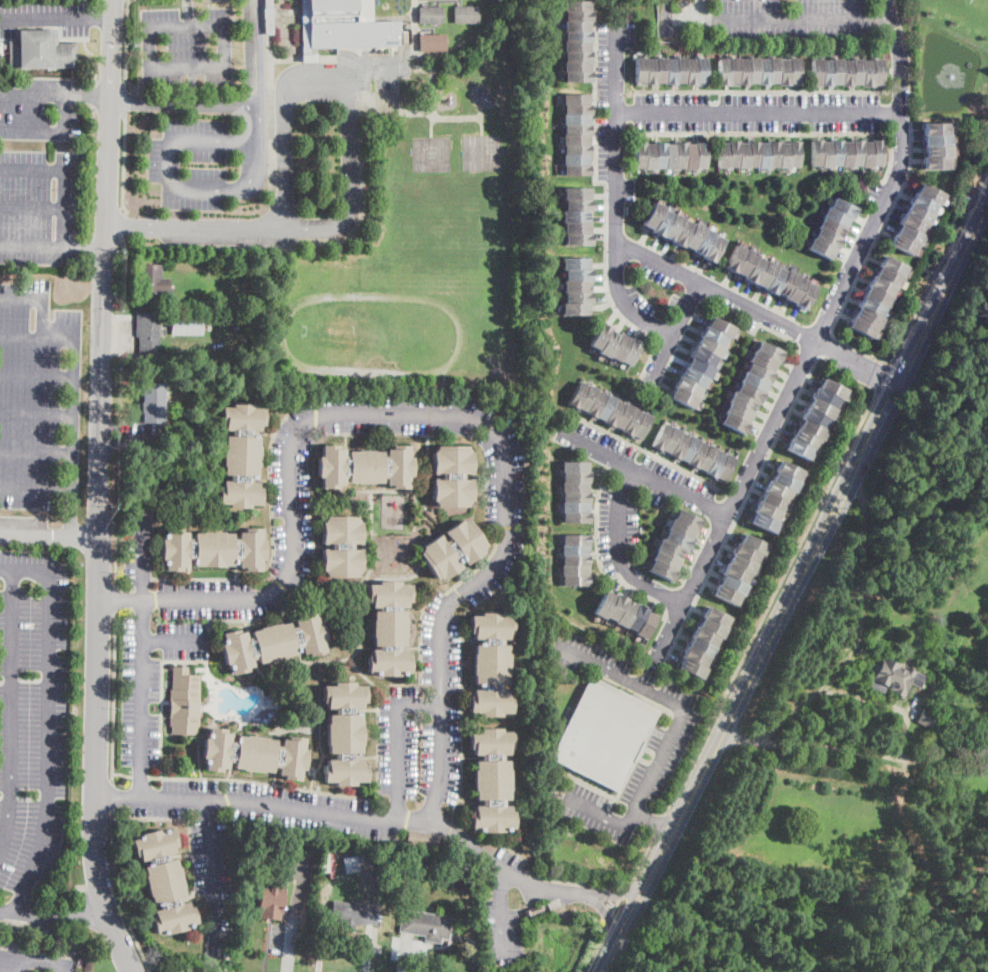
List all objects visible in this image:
building: (414, 1)
building: (575, 5)
road: (184, 9)
road: (702, 9)
building: (430, 13)
building: (465, 13)
road: (193, 14)
building: (577, 15)
parking lot: (42, 16)
road: (401, 16)
building: (269, 17)
road: (99, 18)
parking lot: (763, 18)
road: (44, 19)
road: (777, 19)
building: (576, 25)
building: (343, 26)
road: (472, 35)
building: (577, 35)
building: (431, 40)
road: (126, 43)
parking lot: (187, 45)
building: (575, 45)
building: (41, 51)
building: (577, 55)
road: (97, 56)
road: (339, 58)
road: (432, 60)
road: (179, 66)
building: (577, 66)
parking lot: (388, 69)
building: (660, 70)
building: (681, 70)
building: (753, 70)
building: (773, 70)
road: (362, 71)
building: (639, 71)
building: (650, 71)
building: (690, 71)
building: (700, 71)
building: (722, 71)
building: (733, 71)
building: (743, 71)
building: (764, 71)
building: (793, 71)
building: (837, 71)
building: (670, 72)
building: (783, 72)
building: (815, 72)
building: (856, 72)
building: (876, 72)
building: (827, 73)
building: (846, 73)
building: (866, 73)
building: (577, 76)
road: (338, 78)
parking lot: (901, 81)
road: (109, 83)
road: (765, 91)
road: (31, 94)
road: (94, 94)
road: (85, 95)
road: (124, 98)
building: (576, 98)
road: (183, 102)
road: (269, 102)
building: (577, 107)
parking lot: (38, 110)
parking lot: (703, 110)
road: (757, 111)
road: (61, 113)
building: (576, 118)
road: (482, 120)
building: (934, 127)
building: (577, 129)
road: (30, 130)
road: (763, 133)
building: (575, 138)
building: (935, 138)
building: (577, 148)
building: (815, 151)
building: (835, 151)
building: (855, 151)
building: (937, 151)
building: (825, 152)
building: (845, 152)
building: (876, 152)
building: (732, 153)
building: (866, 153)
building: (722, 154)
building: (742, 154)
building: (753, 154)
building: (773, 154)
building: (793, 154)
building: (639, 155)
building: (660, 155)
building: (700, 155)
building: (763, 155)
building: (783, 155)
building: (650, 156)
building: (670, 156)
building: (679, 156)
building: (690, 156)
building: (575, 159)
road: (122, 160)
building: (934, 163)
parking lot: (190, 164)
road: (32, 168)
building: (577, 170)
road: (92, 171)
parking lot: (889, 176)
road: (224, 189)
road: (615, 192)
building: (574, 193)
building: (929, 193)
road: (607, 200)
building: (922, 203)
building: (576, 204)
parking lot: (40, 205)
road: (32, 206)
road: (64, 207)
building: (840, 208)
building: (918, 214)
building: (573, 215)
building: (651, 215)
building: (835, 217)
building: (661, 222)
building: (912, 224)
building: (574, 226)
building: (672, 226)
road: (120, 227)
road: (132, 227)
road: (222, 227)
road: (289, 227)
building: (831, 227)
road: (355, 230)
parking lot: (227, 231)
building: (681, 232)
building: (908, 235)
building: (692, 236)
building: (827, 238)
building: (576, 239)
building: (702, 242)
building: (902, 244)
road: (31, 245)
road: (83, 246)
building: (819, 248)
building: (712, 249)
building: (732, 259)
building: (575, 263)
building: (744, 263)
building: (890, 265)
building: (753, 269)
building: (576, 274)
building: (764, 275)
building: (888, 276)
building: (774, 281)
building: (152, 283)
building: (785, 283)
building: (576, 285)
building: (880, 286)
building: (795, 289)
parking lot: (838, 292)
parking lot: (653, 294)
road: (120, 295)
building: (804, 295)
building: (876, 296)
road: (21, 297)
building: (577, 297)
building: (870, 306)
building: (575, 308)
road: (756, 309)
parking lot: (754, 310)
road: (42, 316)
road: (117, 317)
building: (866, 317)
building: (187, 325)
building: (720, 326)
building: (861, 328)
road: (749, 329)
building: (148, 331)
road: (673, 331)
road: (37, 334)
track: (371, 335)
building: (712, 335)
building: (599, 336)
road: (815, 340)
building: (608, 343)
building: (618, 346)
building: (708, 346)
road: (854, 347)
building: (768, 351)
building: (629, 352)
building: (703, 356)
building: (762, 360)
building: (699, 367)
building: (759, 372)
road: (37, 376)
building: (694, 376)
road: (883, 377)
building: (752, 381)
building: (688, 387)
building: (831, 388)
building: (643, 389)
building: (749, 392)
building: (577, 395)
building: (586, 397)
building: (824, 397)
parking lot: (38, 398)
building: (682, 398)
building: (153, 400)
building: (741, 401)
building: (595, 404)
building: (605, 407)
building: (819, 408)
building: (613, 412)
building: (738, 412)
road: (37, 413)
road: (435, 415)
building: (623, 415)
building: (813, 419)
building: (631, 422)
building: (733, 423)
building: (642, 426)
building: (811, 430)
road: (73, 435)
building: (660, 436)
road: (131, 438)
building: (805, 439)
building: (669, 441)
building: (679, 445)
building: (689, 449)
building: (798, 449)
road: (36, 452)
building: (697, 454)
building: (241, 456)
building: (706, 458)
building: (714, 464)
building: (574, 465)
building: (365, 467)
building: (724, 468)
building: (789, 470)
parking lot: (747, 472)
road: (643, 474)
building: (576, 475)
building: (452, 476)
building: (783, 481)
building: (574, 485)
road: (36, 489)
road: (98, 489)
building: (777, 490)
parking lot: (630, 493)
building: (576, 495)
building: (773, 501)
building: (575, 506)
building: (766, 511)
building: (576, 516)
building: (686, 519)
building: (763, 523)
building: (681, 529)
road: (48, 535)
building: (576, 539)
building: (675, 540)
road: (114, 541)
building: (752, 544)
building: (341, 546)
parking lot: (139, 547)
building: (212, 549)
building: (453, 549)
building: (574, 549)
building: (668, 549)
road: (619, 552)
building: (745, 553)
building: (576, 560)
building: (665, 560)
building: (741, 564)
building: (574, 569)
building: (661, 570)
building: (735, 574)
building: (575, 579)
building: (731, 585)
road: (792, 586)
building: (726, 595)
road: (115, 597)
building: (506, 598)
parking lot: (225, 601)
road: (770, 601)
building: (603, 603)
building: (615, 607)
building: (625, 613)
building: (715, 616)
building: (635, 618)
building: (645, 624)
building: (711, 626)
building: (389, 628)
road: (857, 629)
building: (704, 636)
road: (175, 641)
parking lot: (663, 641)
building: (273, 643)
building: (699, 647)
building: (694, 658)
road: (142, 659)
building: (491, 664)
building: (691, 669)
parking lot: (153, 675)
building: (896, 678)
building: (985, 678)
road: (863, 695)
road: (113, 696)
building: (278, 700)
building: (184, 702)
road: (11, 712)
building: (926, 718)
road: (48, 719)
building: (265, 719)
road: (906, 726)
parking lot: (33, 727)
building: (344, 734)
building: (603, 734)
road: (670, 734)
road: (396, 740)
parking lot: (665, 742)
road: (852, 750)
building: (254, 754)
road: (121, 773)
road: (139, 775)
building: (491, 780)
road: (259, 781)
road: (111, 794)
crop: (815, 816)
parking lot: (250, 817)
road: (353, 817)
road: (651, 818)
road: (660, 822)
building: (423, 840)
building: (346, 850)
building: (367, 853)
building: (351, 864)
road: (213, 877)
building: (440, 878)
building: (460, 878)
building: (164, 881)
road: (618, 887)
road: (619, 892)
road: (622, 892)
road: (118, 893)
building: (271, 900)
road: (615, 905)
parking lot: (503, 906)
road: (295, 908)
parking lot: (290, 912)
road: (502, 912)
building: (353, 914)
road: (39, 916)
road: (93, 916)
road: (608, 916)
road: (609, 919)
building: (425, 925)
road: (321, 944)
road: (266, 947)
road: (596, 949)
road: (368, 950)
road: (10, 954)
road: (404, 954)
road: (9, 959)
road: (42, 959)
parking lot: (35, 962)
road: (18, 963)
road: (287, 964)
road: (9, 966)
road: (64, 967)
road: (5, 971)

